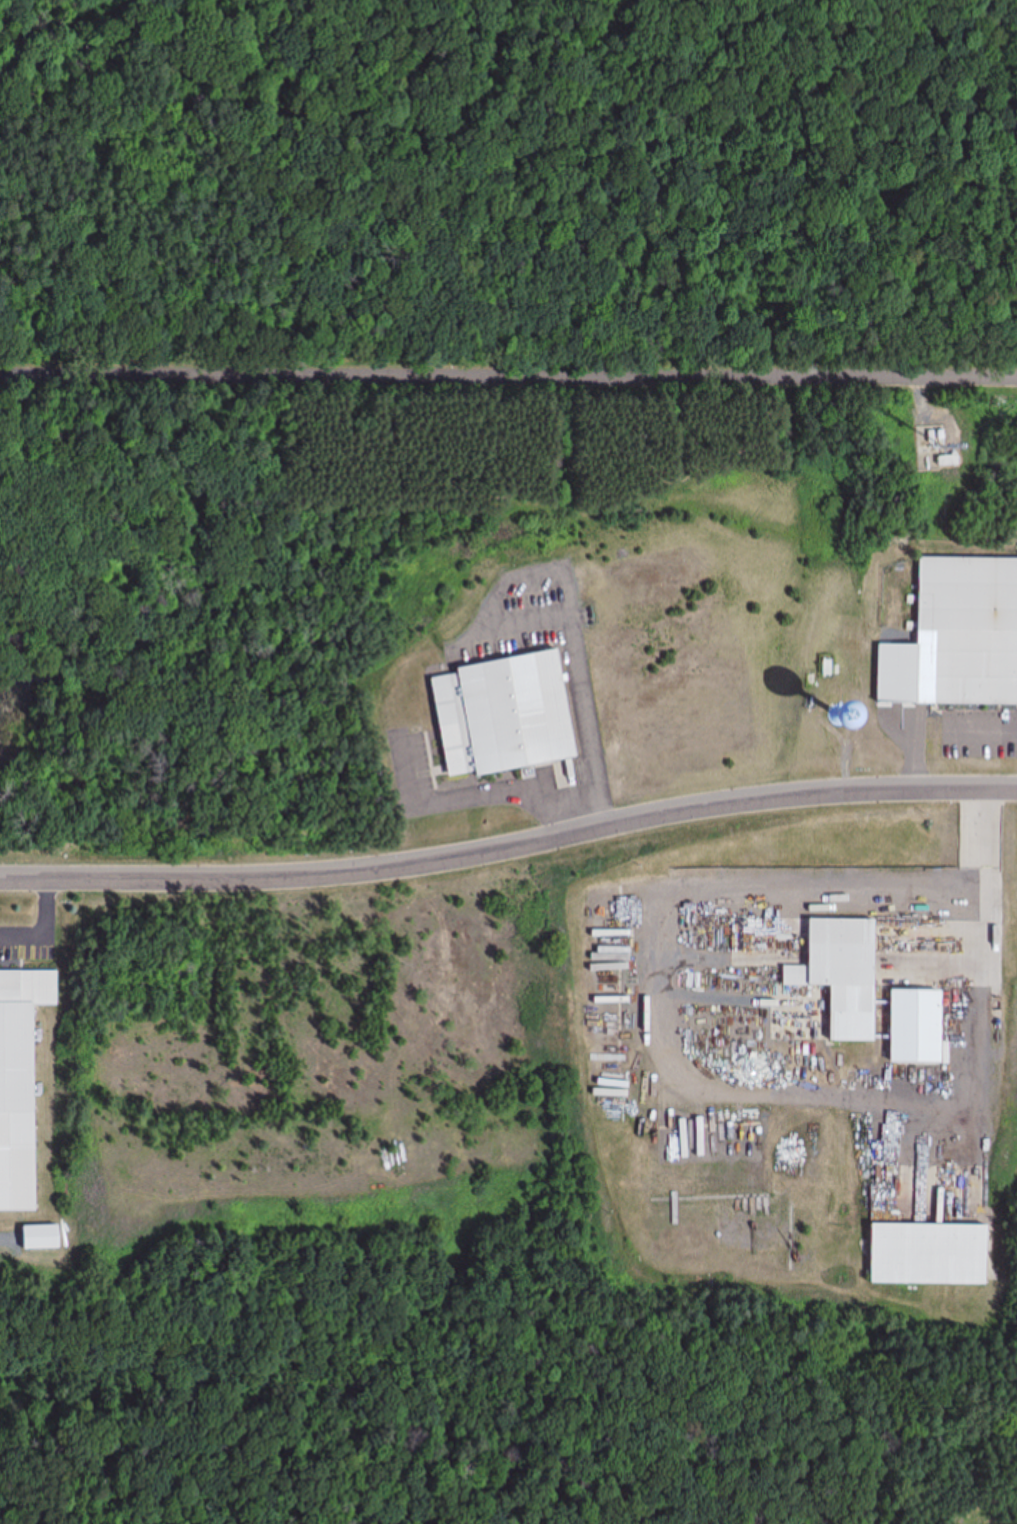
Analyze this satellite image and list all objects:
road: (508, 372)
road: (381, 483)
park: (302, 567)
road: (81, 572)
building: (965, 632)
water tower: (847, 705)
building: (500, 715)
road: (510, 846)
road: (47, 926)
building: (838, 975)
building: (910, 1027)
building: (20, 1083)
building: (36, 1238)
building: (922, 1255)

